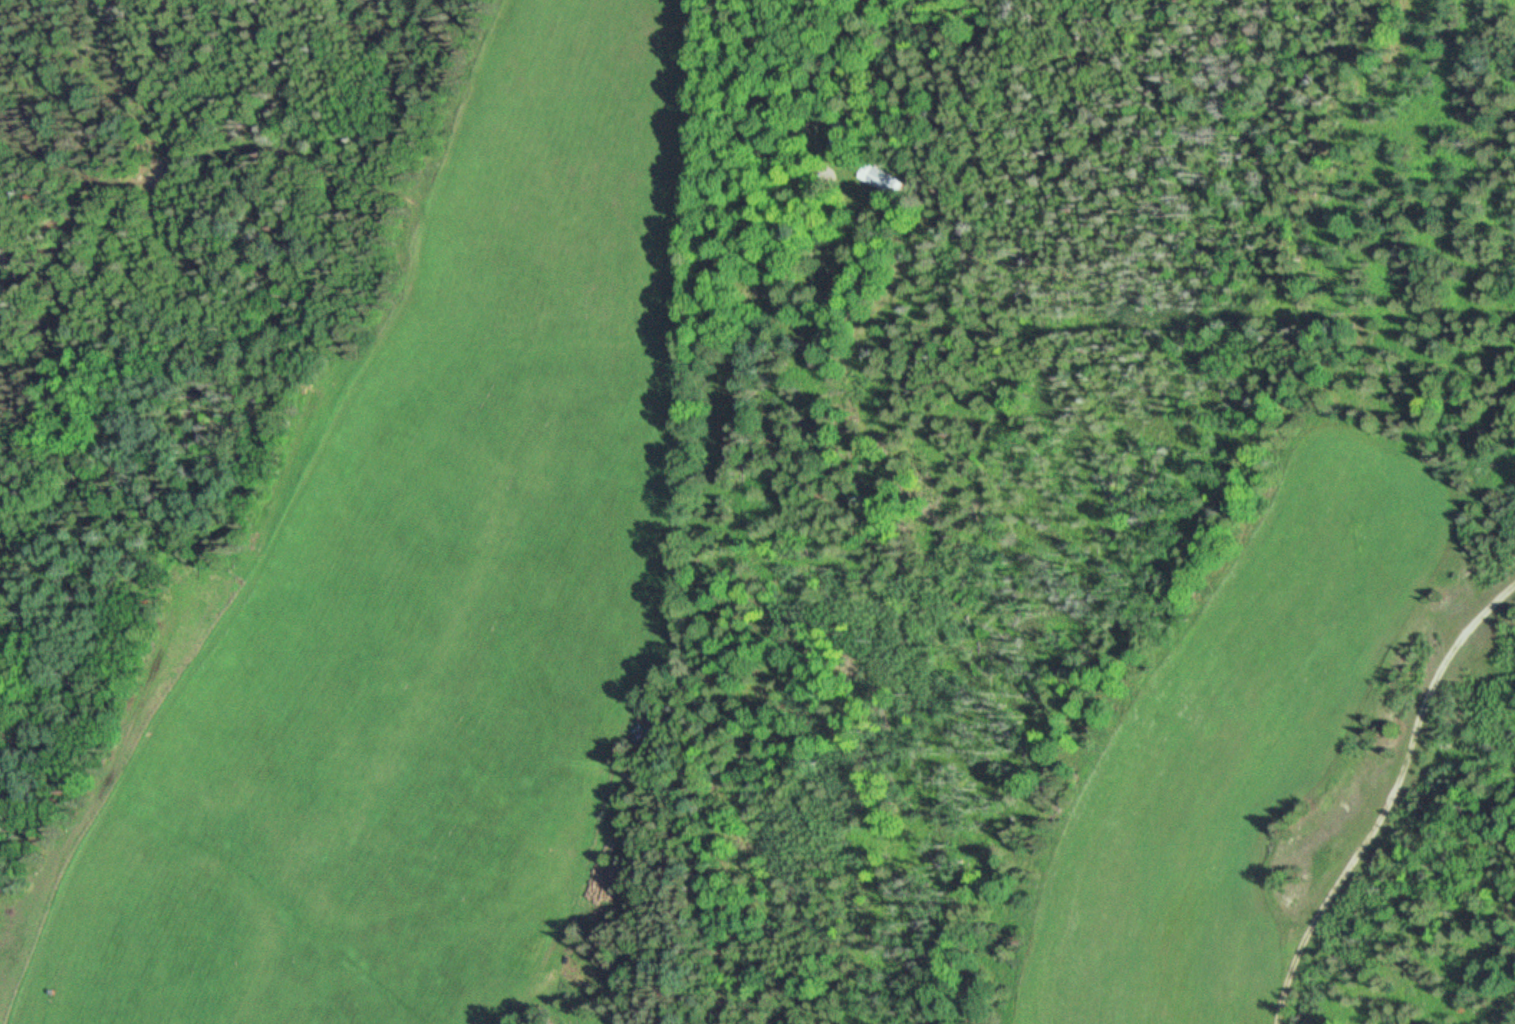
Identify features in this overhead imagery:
road: (847, 77)
building: (836, 136)
building: (876, 180)
road: (1399, 800)

